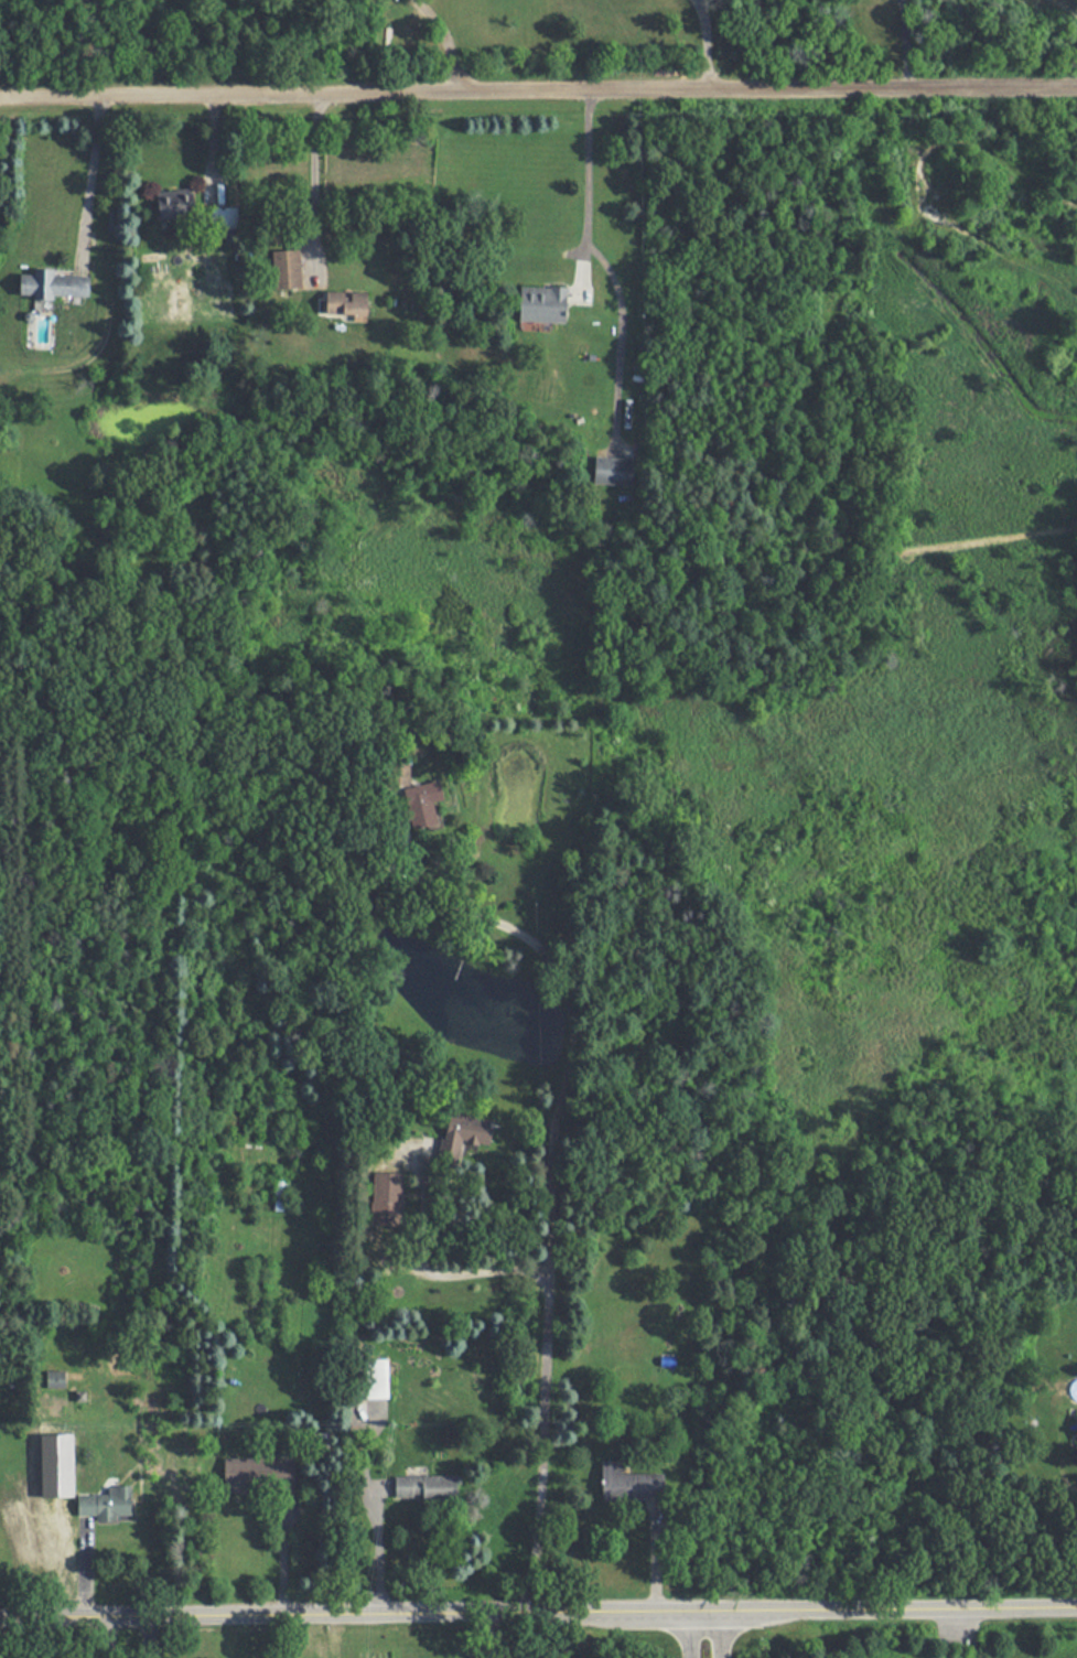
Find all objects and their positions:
road: (445, 41)
road: (706, 43)
road: (904, 43)
road: (538, 89)
road: (313, 177)
road: (89, 179)
road: (590, 184)
building: (177, 202)
building: (287, 268)
building: (56, 283)
building: (349, 301)
building: (546, 303)
road: (623, 314)
building: (613, 471)
building: (424, 805)
road: (574, 1012)
building: (466, 1135)
building: (387, 1198)
road: (428, 1273)
building: (379, 1378)
road: (534, 1444)
building: (258, 1472)
building: (631, 1483)
building: (428, 1488)
building: (108, 1503)
road: (381, 1542)
road: (286, 1554)
road: (538, 1609)
road: (685, 1633)
road: (724, 1633)
road: (483, 1634)
road: (111, 1636)

